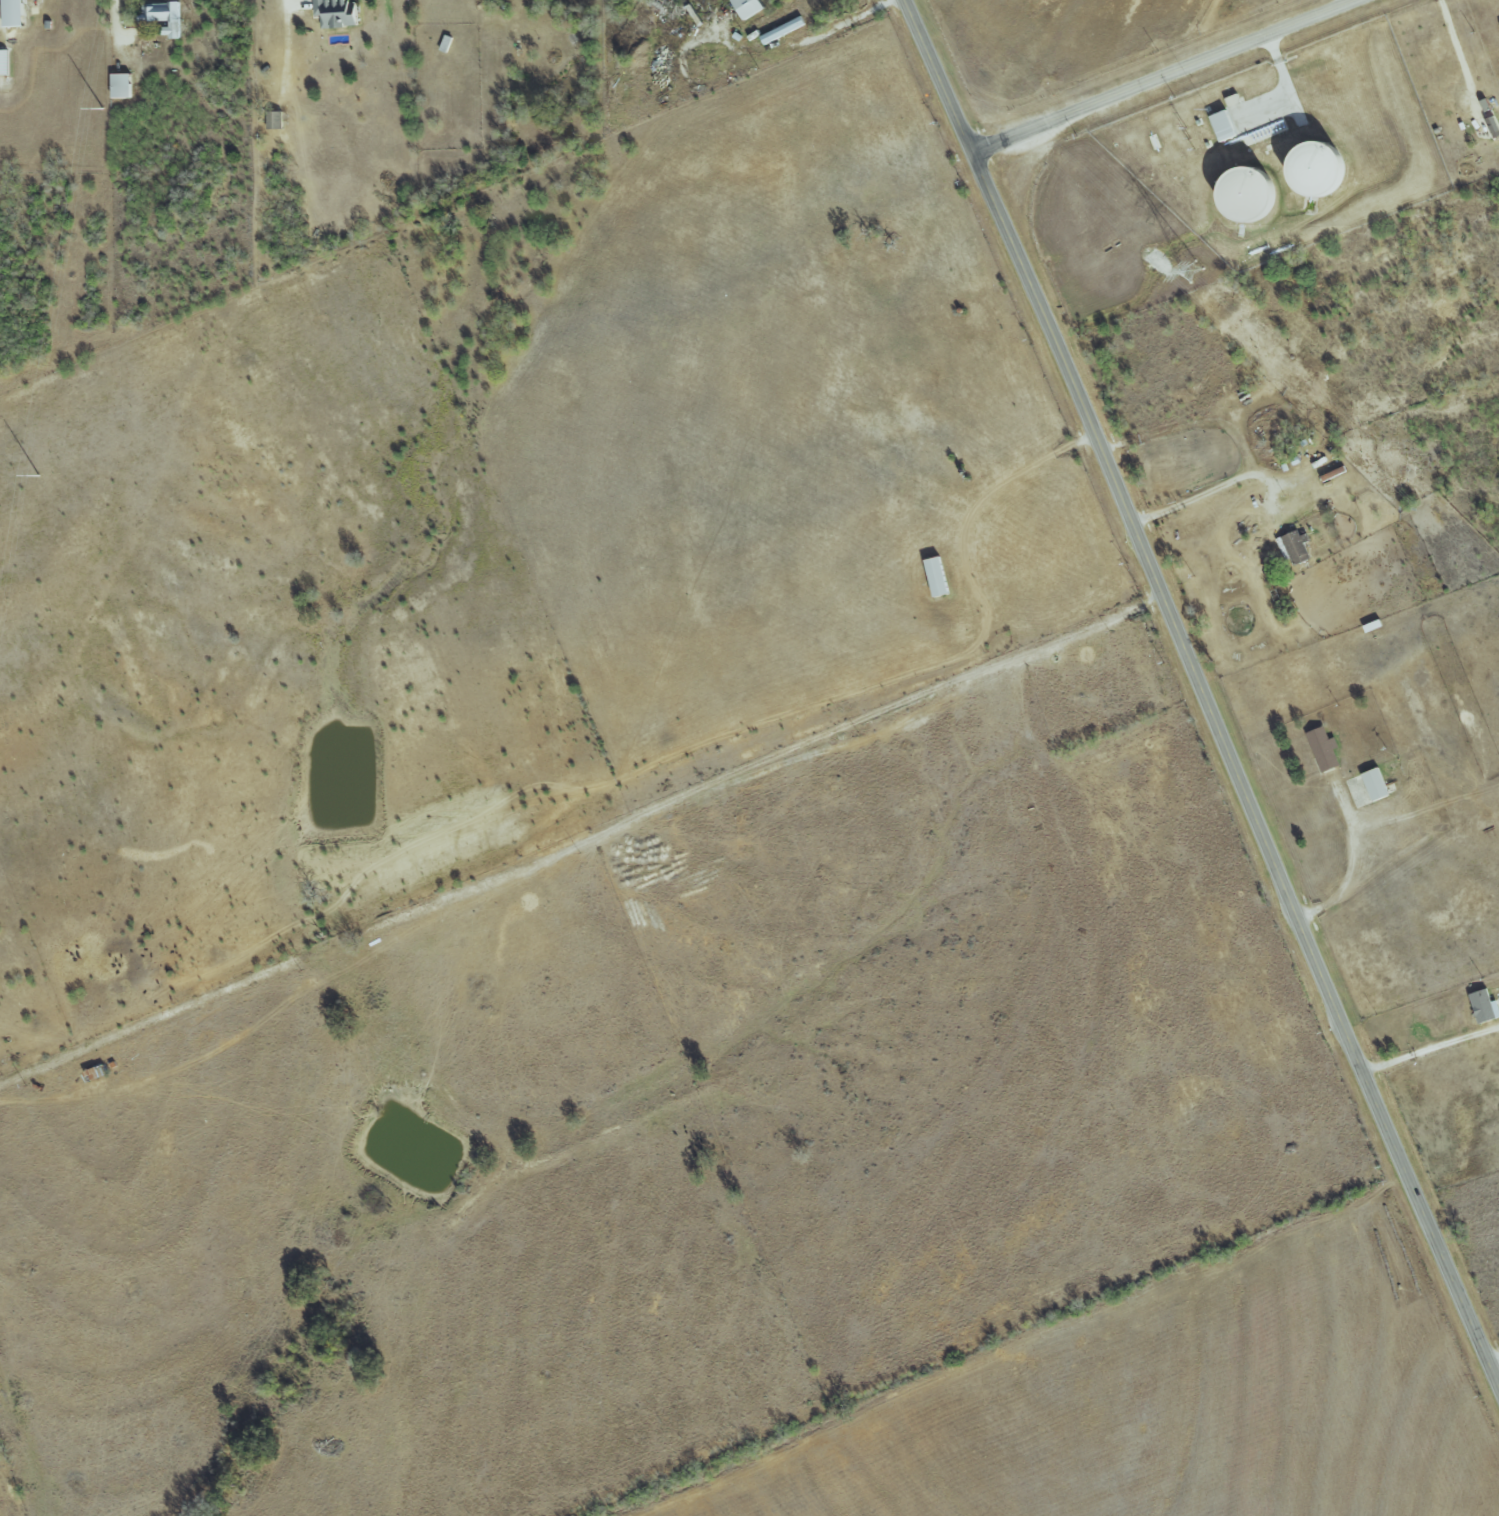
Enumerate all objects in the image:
road: (295, 1)
building: (749, 8)
building: (14, 13)
building: (338, 13)
building: (166, 16)
road: (116, 20)
building: (783, 30)
road: (1456, 47)
road: (783, 48)
building: (4, 62)
road: (1166, 76)
building: (122, 86)
power tower: (101, 109)
building: (275, 120)
building: (1251, 194)
power tower: (1192, 272)
power tower: (37, 477)
road: (1204, 490)
building: (1294, 548)
building: (938, 577)
road: (1203, 692)
building: (1324, 750)
building: (1376, 784)
road: (1349, 866)
building: (1486, 1005)
road: (1431, 1051)
road: (1493, 1356)
road: (1498, 1380)

